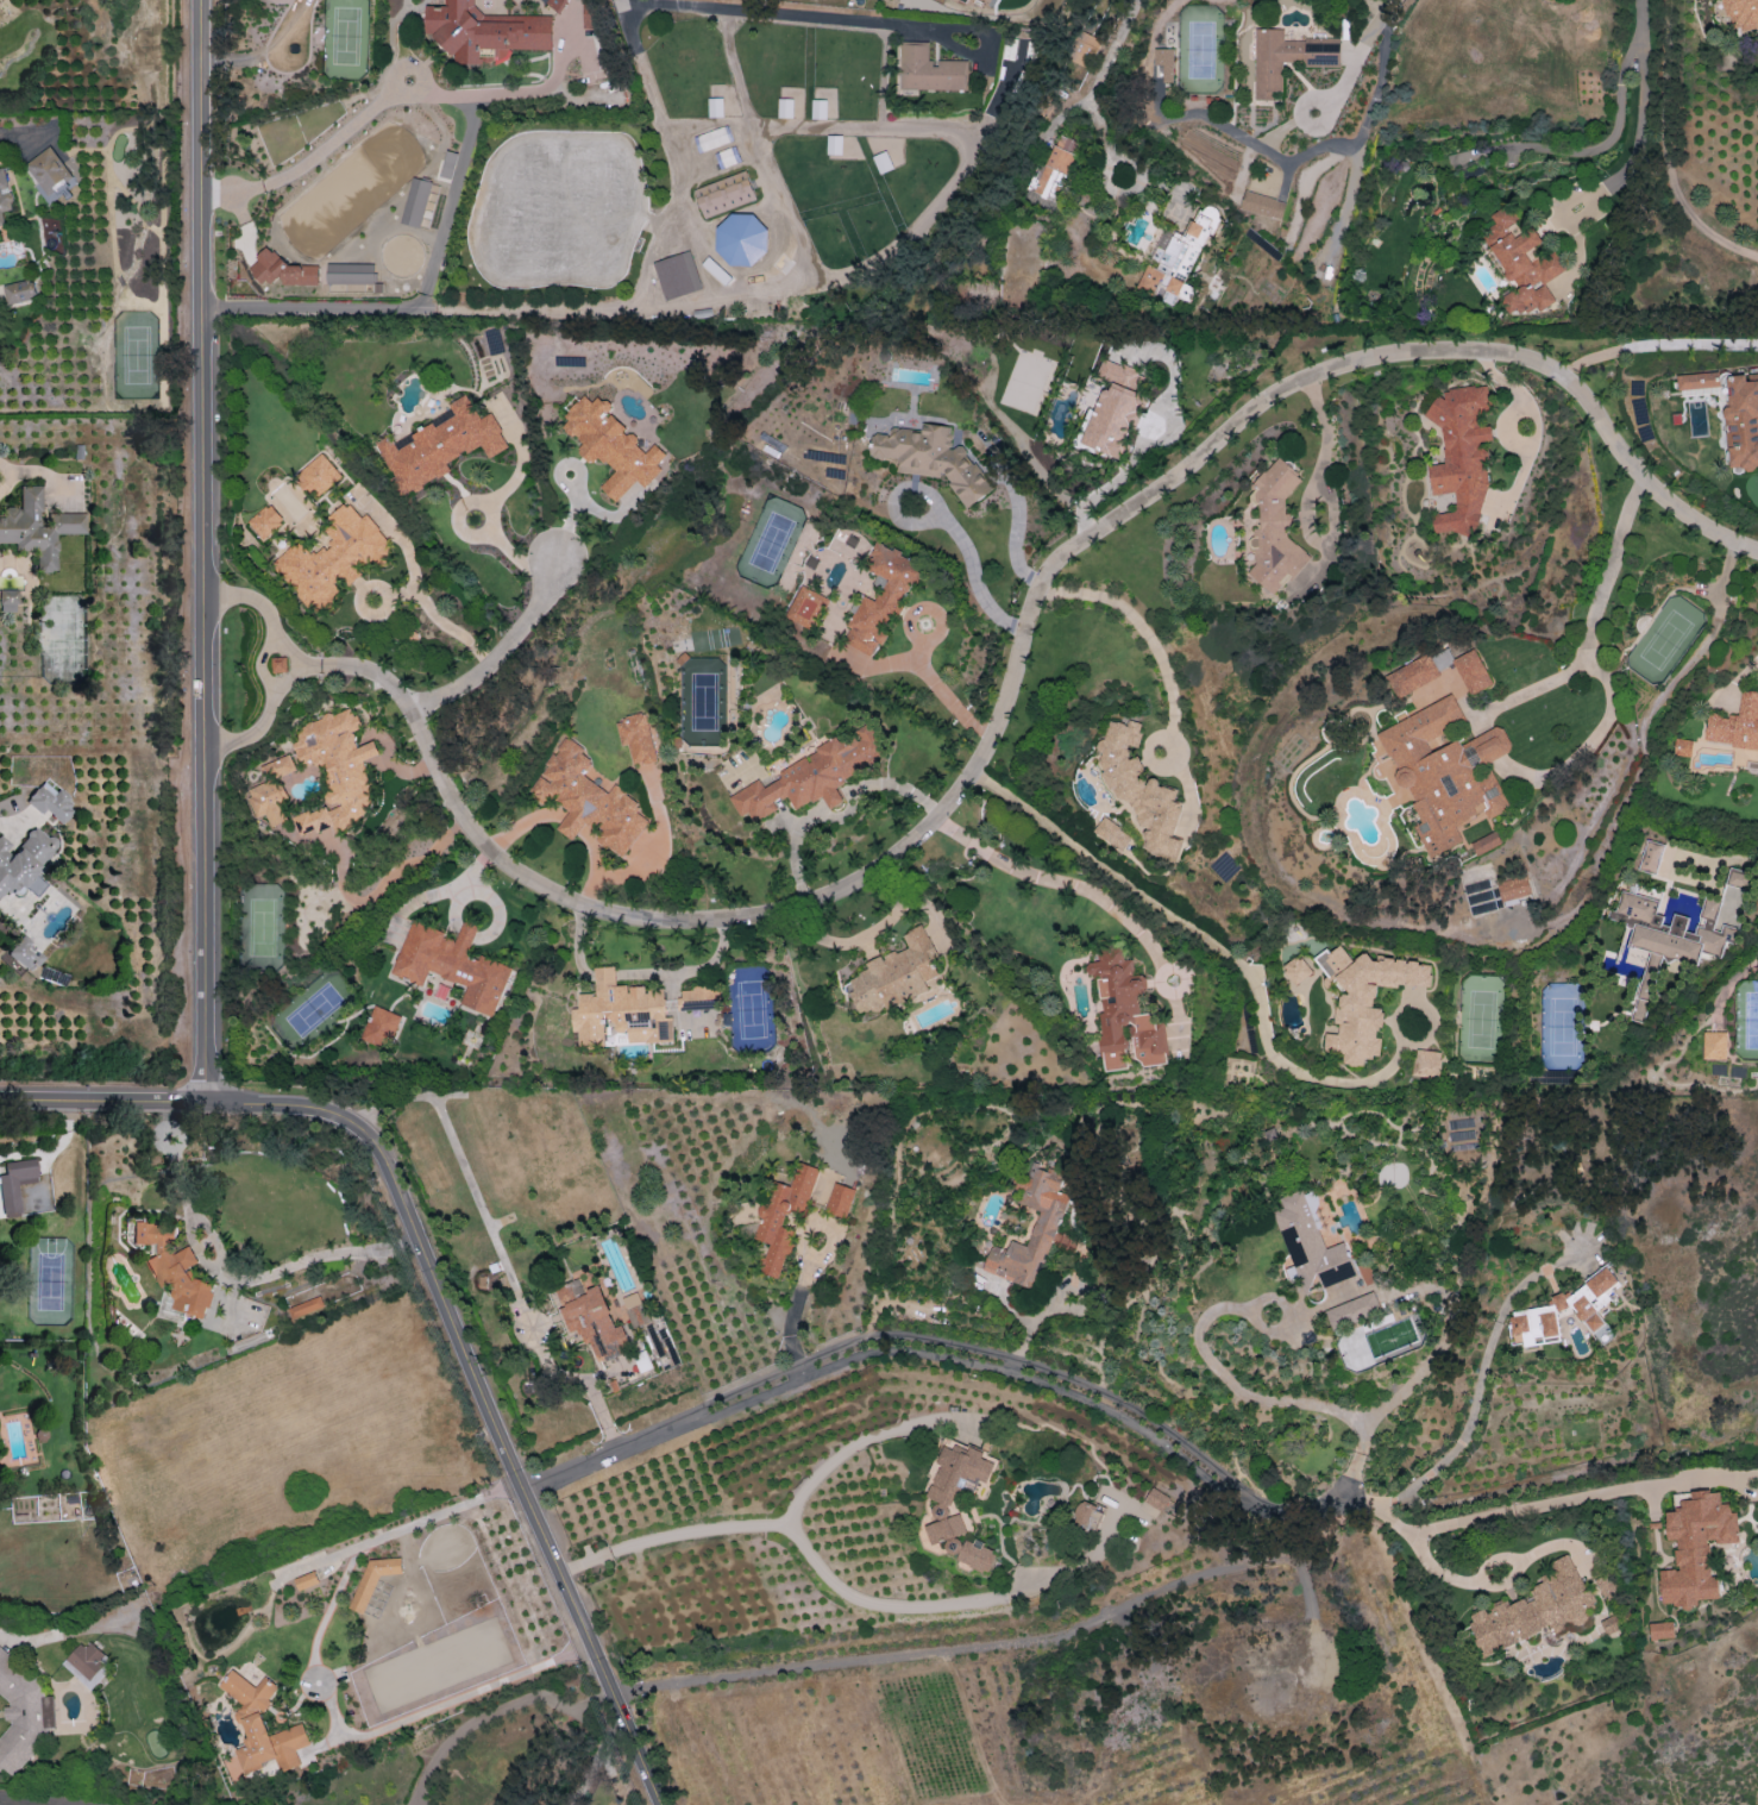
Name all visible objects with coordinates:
building: (553, 1)
road: (1641, 10)
building: (589, 14)
road: (781, 14)
building: (1743, 15)
building: (484, 31)
building: (1084, 49)
building: (1286, 57)
building: (1166, 62)
building: (930, 69)
road: (1099, 80)
road: (1380, 83)
building: (785, 108)
building: (818, 108)
road: (1641, 111)
road: (1611, 134)
building: (712, 138)
road: (10, 140)
building: (834, 144)
road: (1666, 150)
road: (312, 151)
road: (1316, 151)
building: (1053, 169)
road: (1350, 169)
building: (48, 173)
road: (1130, 193)
building: (4, 194)
building: (724, 194)
building: (415, 202)
building: (1262, 205)
building: (742, 240)
building: (1174, 259)
building: (1521, 264)
building: (350, 274)
building: (677, 275)
road: (1393, 283)
building: (20, 292)
road: (577, 306)
road: (1655, 345)
building: (1699, 381)
building: (1116, 409)
building: (1741, 420)
road: (1539, 425)
road: (1153, 444)
building: (441, 445)
building: (611, 446)
building: (1461, 457)
building: (933, 458)
road: (36, 474)
building: (318, 476)
road: (1307, 503)
building: (265, 521)
road: (491, 527)
building: (37, 528)
building: (1274, 528)
road: (1015, 529)
road: (205, 550)
building: (333, 558)
road: (973, 565)
road: (404, 593)
building: (883, 597)
building: (8, 601)
building: (808, 608)
road: (264, 610)
road: (1138, 628)
road: (503, 651)
road: (1018, 656)
road: (313, 663)
road: (260, 664)
building: (278, 664)
building: (1415, 672)
road: (938, 685)
road: (264, 716)
building: (1735, 725)
building: (636, 738)
road: (1590, 738)
building: (1682, 747)
road: (1148, 753)
building: (335, 770)
building: (1444, 772)
building: (812, 776)
building: (1139, 789)
building: (271, 791)
road: (1191, 796)
building: (588, 800)
building: (51, 803)
building: (1111, 834)
building: (1486, 842)
building: (1650, 857)
building: (23, 861)
road: (1714, 863)
building: (1735, 880)
road: (1063, 882)
building: (1512, 888)
building: (1666, 938)
road: (1213, 944)
building: (25, 954)
building: (451, 964)
building: (1295, 970)
building: (896, 974)
road: (1167, 983)
building: (1364, 999)
building: (620, 1011)
building: (1125, 1014)
road: (1434, 1019)
building: (381, 1027)
building: (1714, 1045)
road: (1176, 1054)
building: (1426, 1063)
road: (54, 1152)
building: (15, 1184)
building: (839, 1199)
building: (783, 1216)
building: (1047, 1221)
building: (1310, 1243)
road: (498, 1249)
building: (174, 1268)
road: (226, 1285)
road: (444, 1295)
building: (304, 1306)
road: (795, 1306)
road: (1053, 1308)
building: (1551, 1308)
building: (635, 1310)
building: (1352, 1310)
road: (1252, 1317)
building: (591, 1318)
road: (1482, 1367)
road: (1418, 1370)
road: (1249, 1395)
road: (1109, 1403)
road: (1348, 1477)
road: (1551, 1500)
building: (1163, 1503)
building: (944, 1508)
building: (1087, 1515)
road: (760, 1525)
road: (1419, 1530)
building: (1695, 1547)
building: (306, 1580)
building: (371, 1580)
road: (1486, 1584)
road: (877, 1602)
building: (1532, 1609)
building: (1608, 1625)
building: (1660, 1630)
road: (8, 1637)
road: (1019, 1641)
building: (87, 1662)
road: (316, 1681)
building: (21, 1713)
building: (262, 1725)
road: (595, 1759)
road: (27, 1801)
road: (11, 1803)

